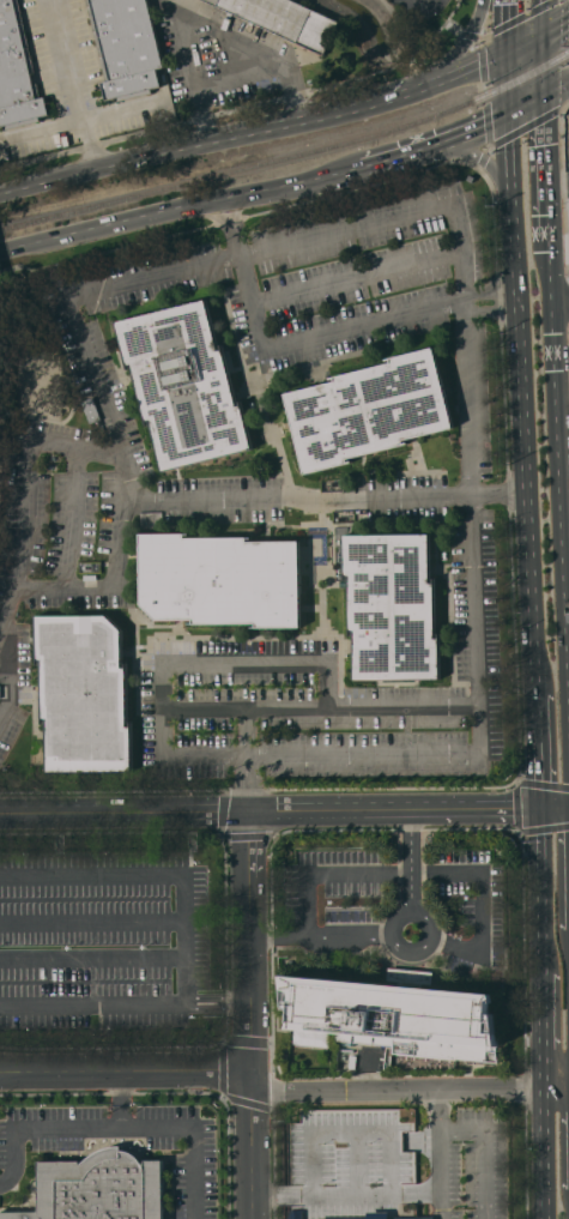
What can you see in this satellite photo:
road: (412, 8)
road: (540, 17)
building: (286, 20)
river: (374, 22)
road: (507, 25)
road: (555, 25)
road: (213, 29)
traffic signals: (541, 35)
road: (525, 42)
road: (462, 46)
building: (125, 47)
traffic signals: (508, 50)
road: (541, 66)
building: (17, 72)
road: (242, 82)
road: (508, 83)
road: (73, 85)
road: (556, 90)
traffic signals: (543, 97)
road: (371, 103)
road: (526, 105)
traffic signals: (509, 115)
road: (84, 119)
road: (426, 146)
railway: (290, 156)
road: (479, 157)
road: (115, 165)
road: (546, 174)
road: (558, 179)
river: (471, 185)
road: (513, 204)
road: (170, 207)
road: (393, 216)
road: (551, 276)
road: (358, 277)
road: (489, 295)
road: (561, 300)
road: (488, 314)
road: (287, 345)
road: (90, 361)
road: (563, 384)
building: (184, 385)
road: (471, 397)
building: (369, 409)
road: (284, 464)
road: (26, 488)
road: (523, 494)
road: (377, 495)
road: (561, 503)
building: (222, 580)
road: (35, 590)
road: (71, 590)
building: (392, 607)
road: (478, 622)
road: (295, 664)
road: (8, 688)
building: (84, 693)
road: (402, 707)
road: (364, 750)
road: (183, 752)
road: (537, 752)
road: (553, 807)
road: (392, 809)
road: (122, 811)
road: (410, 858)
road: (478, 874)
road: (156, 875)
road: (308, 894)
road: (92, 921)
road: (392, 931)
road: (540, 939)
road: (461, 948)
road: (92, 958)
road: (217, 1004)
road: (92, 1006)
road: (248, 1014)
building: (393, 1016)
road: (556, 1069)
road: (123, 1079)
road: (408, 1090)
road: (121, 1102)
road: (119, 1126)
road: (352, 1129)
road: (420, 1139)
road: (543, 1143)
road: (488, 1148)
road: (440, 1153)
building: (350, 1159)
parking garage: (350, 1159)
road: (391, 1160)
road: (314, 1161)
road: (356, 1161)
building: (99, 1188)
road: (426, 1191)
road: (351, 1194)
road: (270, 1195)
building: (296, 1214)
building: (380, 1215)

